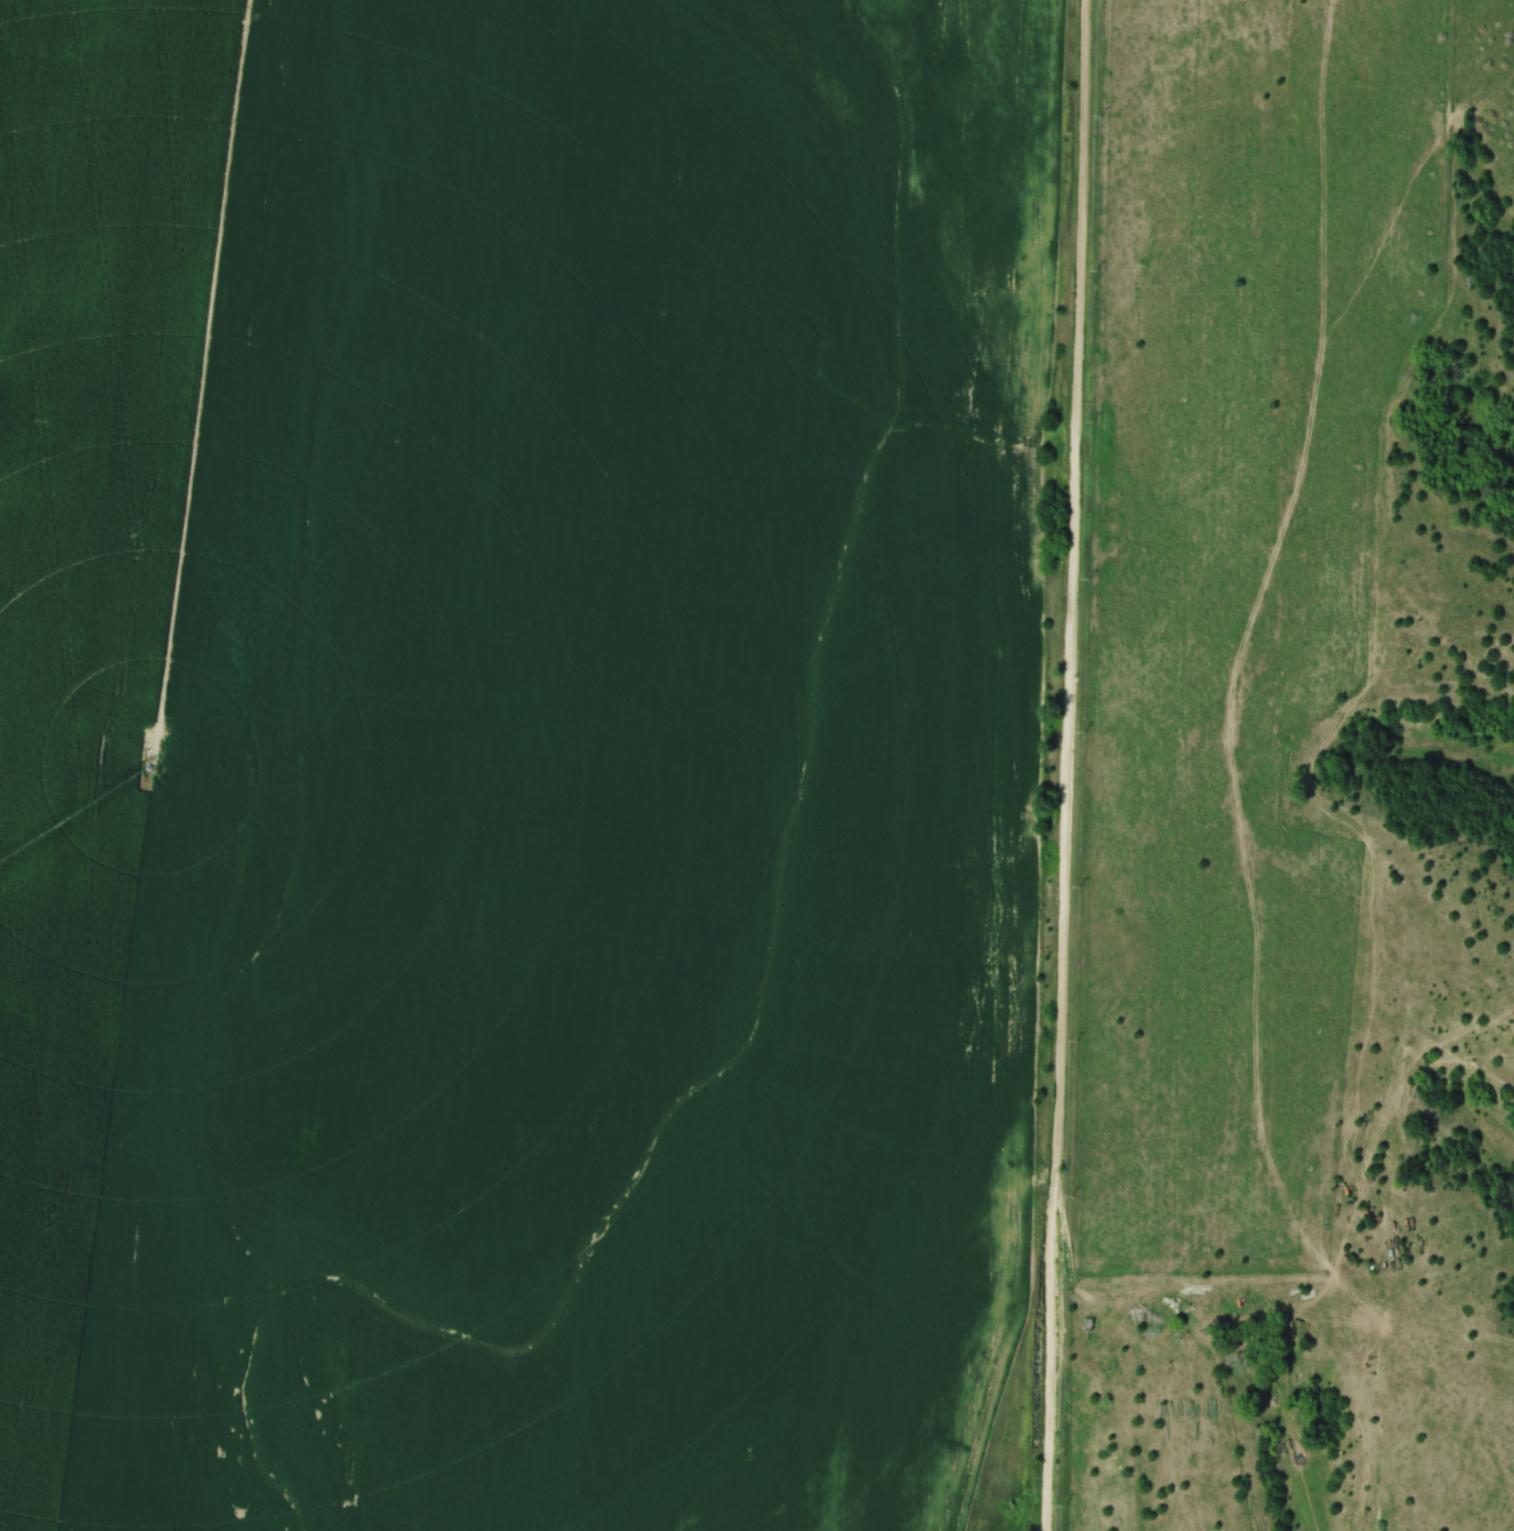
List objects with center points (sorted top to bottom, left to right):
road: (1066, 765)

